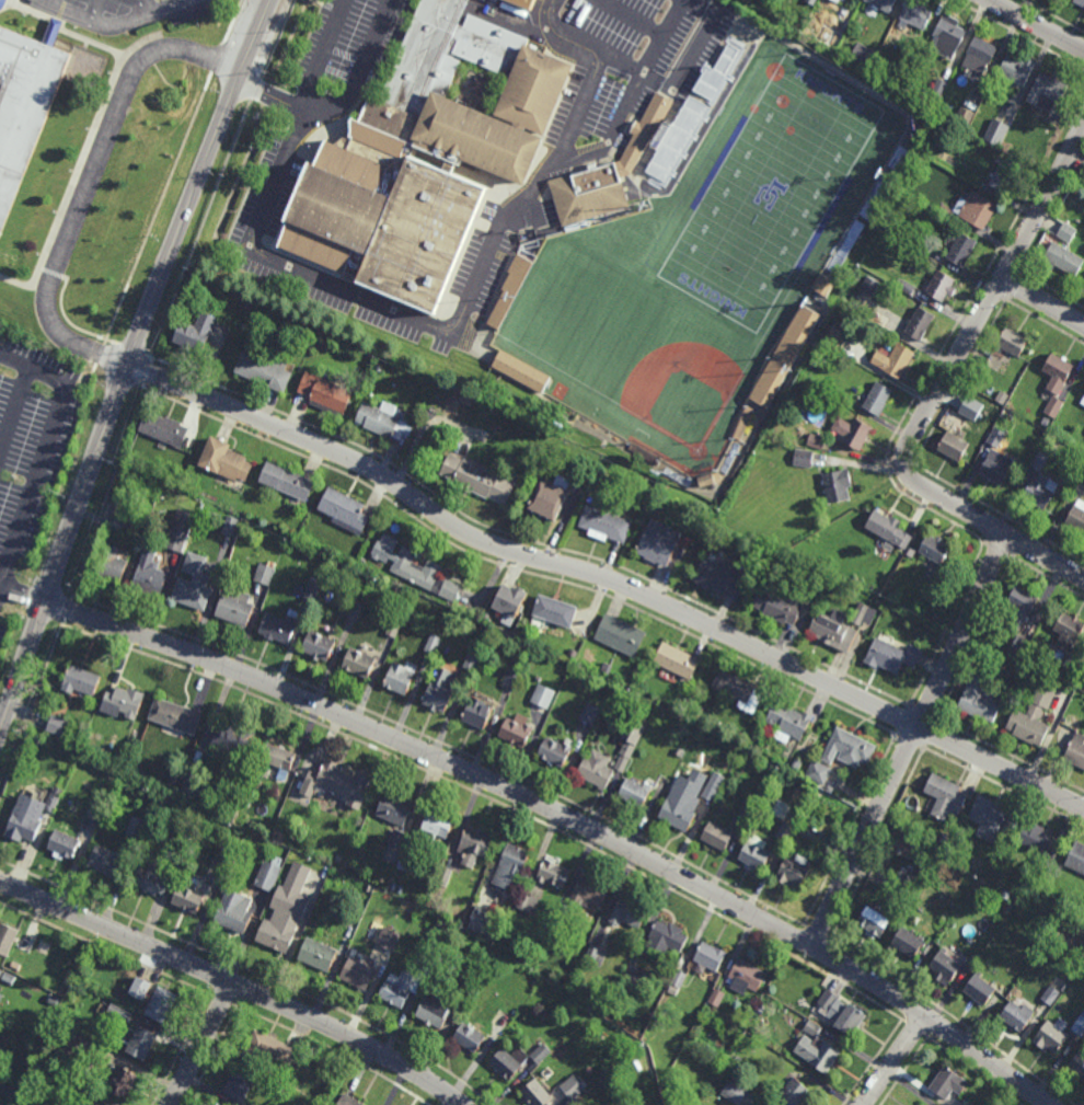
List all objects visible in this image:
building: (810, 1)
building: (1, 3)
building: (521, 3)
building: (883, 3)
building: (1080, 3)
building: (916, 14)
road: (233, 20)
road: (1037, 24)
road: (114, 26)
road: (1019, 34)
building: (947, 36)
building: (834, 37)
building: (864, 55)
building: (979, 55)
building: (1016, 69)
road: (359, 70)
building: (898, 81)
building: (939, 88)
building: (1047, 91)
road: (270, 95)
building: (22, 103)
building: (964, 117)
building: (689, 118)
building: (997, 131)
building: (423, 158)
building: (607, 172)
building: (1004, 173)
road: (88, 179)
park: (771, 195)
road: (158, 209)
building: (972, 210)
building: (856, 228)
road: (201, 229)
building: (1066, 231)
building: (924, 242)
building: (961, 250)
building: (1062, 258)
building: (821, 286)
building: (869, 286)
building: (941, 286)
building: (907, 287)
building: (508, 291)
road: (1043, 301)
road: (412, 318)
building: (880, 320)
building: (919, 323)
building: (196, 332)
building: (835, 338)
building: (1013, 341)
road: (962, 349)
road: (100, 354)
building: (782, 358)
building: (893, 359)
road: (128, 365)
building: (266, 369)
road: (33, 370)
building: (521, 370)
building: (1058, 371)
road: (88, 380)
park: (681, 391)
building: (327, 392)
building: (877, 398)
building: (1003, 398)
building: (1083, 401)
building: (1053, 406)
building: (970, 408)
building: (383, 418)
building: (1045, 422)
building: (741, 424)
building: (164, 428)
building: (853, 431)
building: (985, 431)
building: (996, 437)
building: (816, 441)
building: (954, 446)
building: (644, 453)
building: (1072, 456)
building: (803, 458)
building: (226, 459)
building: (996, 467)
building: (1082, 476)
building: (477, 479)
building: (288, 481)
building: (1040, 483)
building: (838, 486)
road: (33, 487)
building: (551, 497)
building: (345, 509)
building: (1076, 517)
building: (604, 523)
building: (230, 525)
building: (119, 526)
building: (702, 528)
building: (889, 529)
building: (181, 530)
building: (659, 542)
building: (935, 549)
building: (911, 552)
road: (1046, 557)
building: (111, 563)
building: (265, 573)
building: (426, 574)
building: (149, 575)
road: (608, 577)
building: (723, 577)
building: (855, 583)
building: (194, 584)
building: (313, 589)
road: (23, 595)
building: (509, 602)
building: (780, 606)
building: (1022, 607)
building: (237, 608)
building: (351, 609)
building: (555, 610)
building: (280, 625)
building: (394, 626)
building: (842, 626)
building: (621, 635)
building: (1070, 638)
building: (435, 643)
building: (321, 644)
building: (1019, 648)
building: (574, 653)
building: (892, 655)
building: (360, 660)
building: (473, 660)
building: (677, 660)
building: (606, 668)
building: (401, 676)
building: (511, 678)
building: (80, 679)
building: (734, 686)
building: (440, 689)
building: (543, 695)
building: (980, 698)
building: (123, 700)
building: (477, 711)
building: (176, 714)
building: (590, 714)
building: (788, 722)
building: (57, 724)
building: (1029, 725)
building: (517, 732)
building: (632, 736)
building: (232, 738)
road: (910, 741)
building: (847, 746)
building: (1074, 746)
building: (556, 751)
building: (678, 752)
building: (276, 758)
building: (797, 763)
building: (597, 769)
building: (818, 772)
building: (176, 775)
building: (338, 783)
building: (192, 785)
building: (635, 792)
building: (712, 793)
building: (945, 795)
building: (102, 797)
building: (246, 803)
building: (96, 810)
building: (748, 812)
building: (679, 813)
building: (395, 814)
building: (31, 816)
road: (566, 816)
building: (991, 819)
building: (436, 826)
building: (139, 827)
building: (785, 830)
building: (809, 833)
building: (717, 836)
building: (1039, 839)
building: (61, 843)
building: (474, 844)
building: (181, 852)
building: (757, 852)
building: (224, 857)
building: (1077, 857)
building: (405, 860)
building: (107, 861)
building: (970, 861)
building: (512, 867)
building: (795, 870)
building: (554, 873)
building: (268, 874)
building: (445, 875)
building: (152, 878)
building: (907, 878)
building: (369, 887)
building: (590, 891)
building: (192, 896)
building: (528, 901)
building: (310, 903)
building: (1069, 906)
building: (234, 912)
building: (629, 912)
building: (876, 920)
building: (353, 922)
building: (484, 922)
building: (278, 934)
building: (554, 936)
building: (8, 937)
building: (391, 937)
building: (667, 937)
building: (909, 942)
building: (320, 953)
building: (596, 954)
building: (976, 954)
building: (710, 955)
building: (484, 960)
building: (945, 966)
building: (1, 972)
building: (360, 972)
building: (636, 974)
building: (746, 976)
building: (679, 977)
building: (10, 978)
building: (69, 978)
road: (235, 983)
building: (142, 988)
building: (401, 988)
building: (981, 989)
building: (1051, 994)
building: (1, 997)
building: (717, 997)
building: (829, 999)
building: (54, 1000)
building: (162, 1003)
building: (435, 1010)
building: (119, 1014)
building: (1017, 1016)
building: (851, 1020)
building: (1080, 1026)
building: (470, 1036)
building: (1052, 1037)
building: (69, 1041)
building: (140, 1041)
road: (203, 1044)
building: (817, 1048)
building: (269, 1049)
building: (616, 1051)
building: (516, 1060)
road: (893, 1060)
building: (1079, 1064)
building: (637, 1066)
building: (123, 1082)
building: (241, 1082)
building: (947, 1083)
building: (3, 1084)
building: (577, 1085)
building: (84, 1090)
building: (735, 1091)
building: (795, 1092)
building: (537, 1094)
building: (351, 1101)
building: (95, 1103)
building: (216, 1104)
building: (219, 1104)
building: (253, 1104)
building: (756, 1104)

